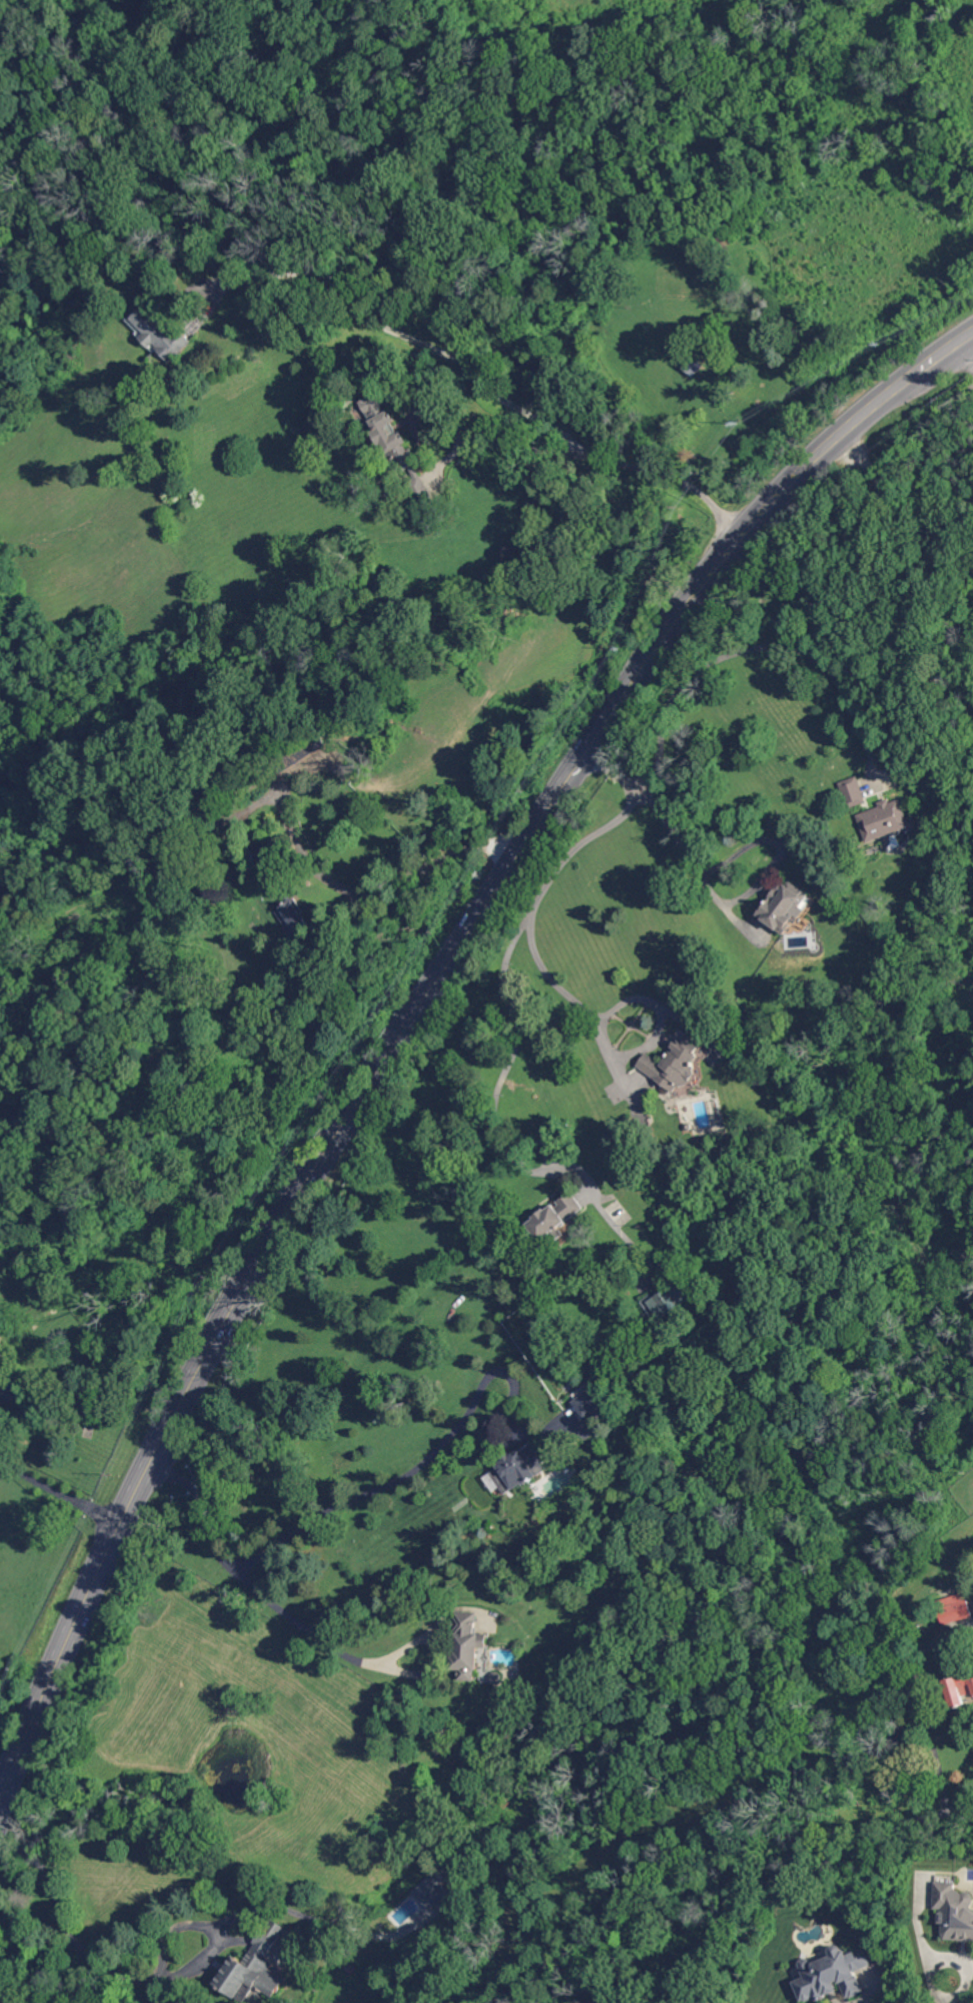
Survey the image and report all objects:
building: (239, 234)
road: (191, 312)
building: (162, 334)
road: (954, 346)
road: (968, 346)
road: (486, 381)
building: (395, 445)
road: (529, 448)
road: (819, 456)
road: (760, 646)
building: (301, 755)
building: (852, 792)
building: (884, 820)
building: (174, 832)
road: (680, 841)
building: (161, 863)
building: (289, 907)
building: (783, 907)
road: (510, 955)
road: (559, 986)
building: (676, 1064)
building: (719, 1111)
building: (688, 1126)
road: (317, 1166)
building: (554, 1221)
road: (617, 1225)
building: (672, 1298)
building: (13, 1387)
building: (586, 1405)
building: (518, 1465)
road: (60, 1489)
road: (372, 1492)
building: (955, 1609)
road: (959, 1634)
building: (468, 1645)
road: (372, 1662)
building: (496, 1678)
building: (956, 1690)
road: (922, 1714)
road: (777, 1809)
building: (506, 1829)
road: (721, 1853)
building: (416, 1901)
building: (953, 1912)
road: (224, 1921)
building: (254, 1966)
building: (351, 1969)
building: (832, 1975)
road: (949, 1985)

